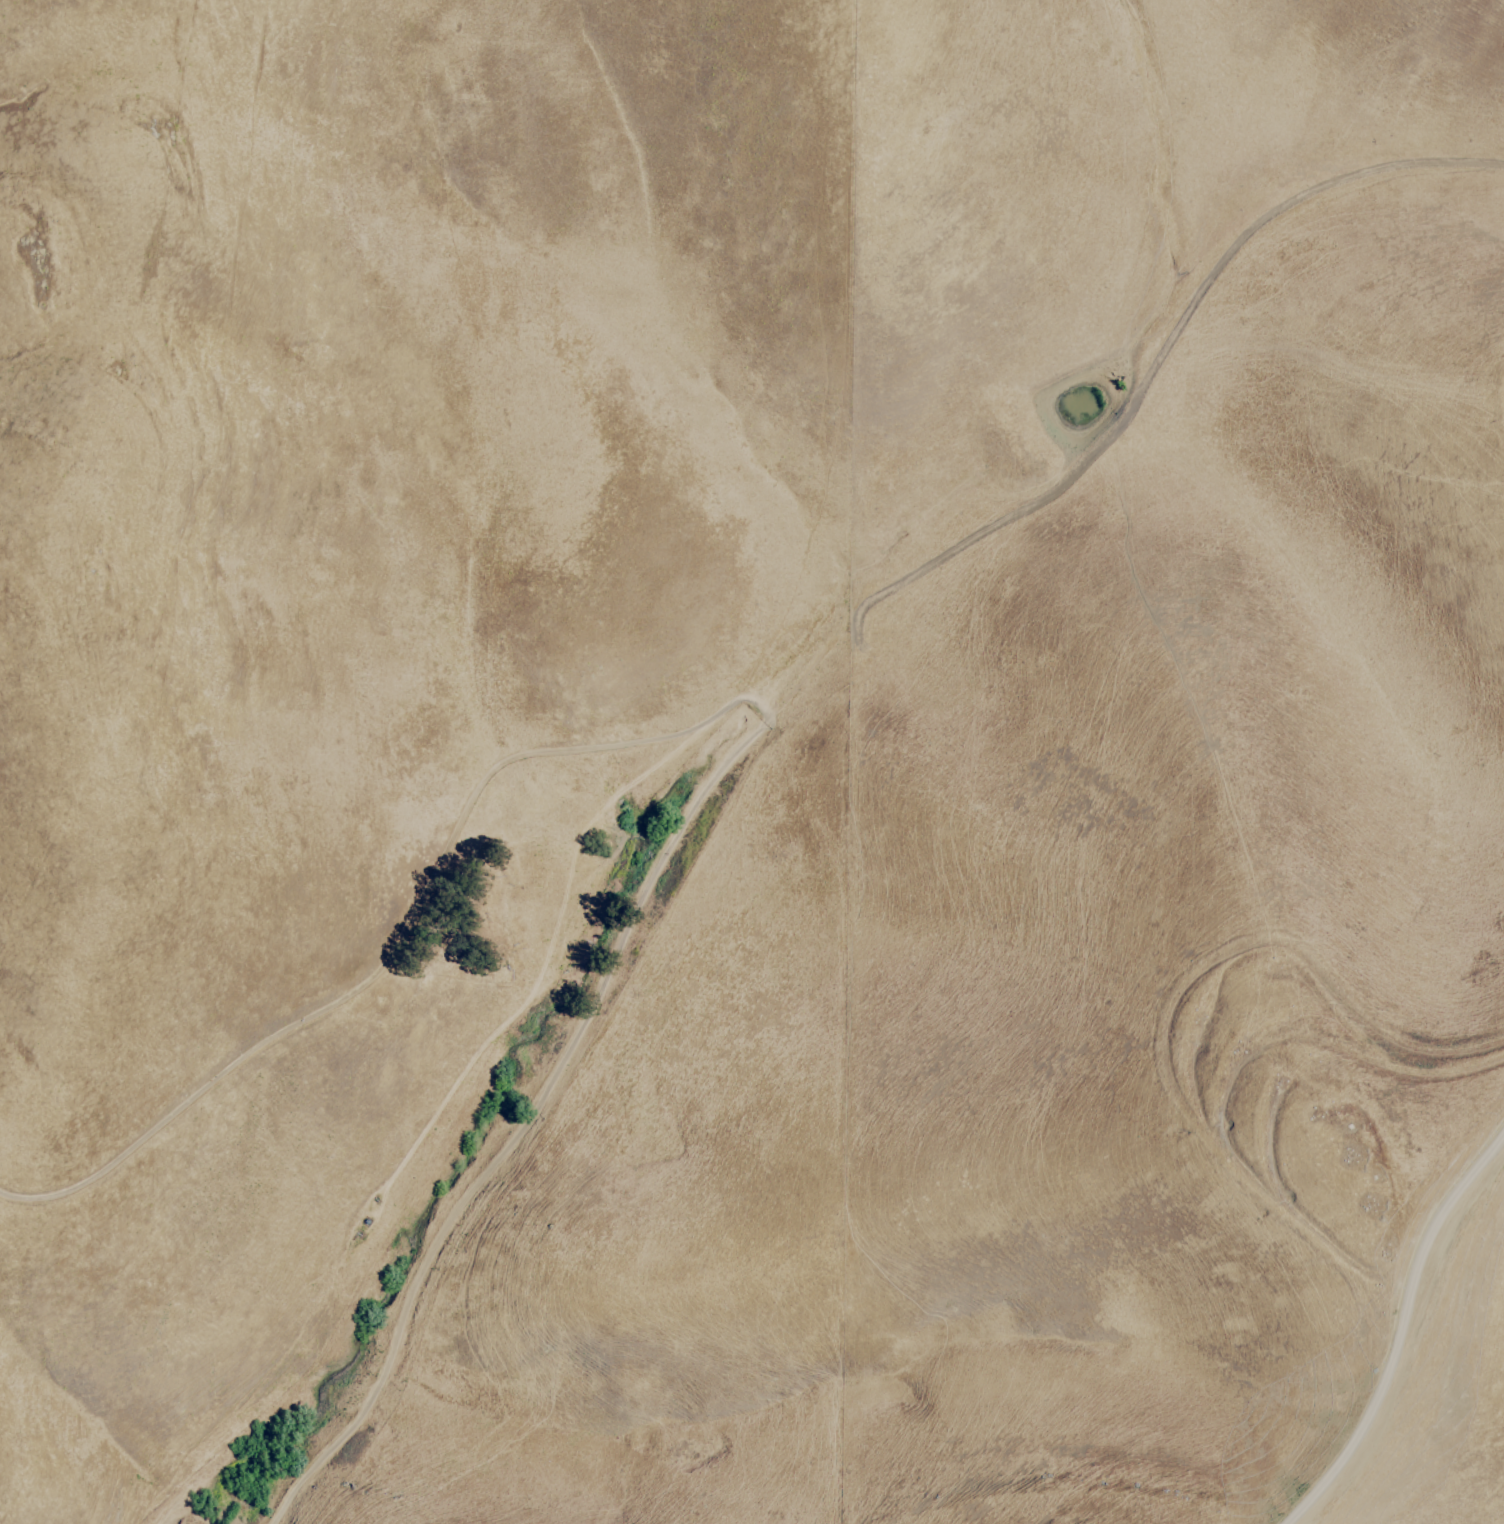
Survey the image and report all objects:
road: (759, 706)

